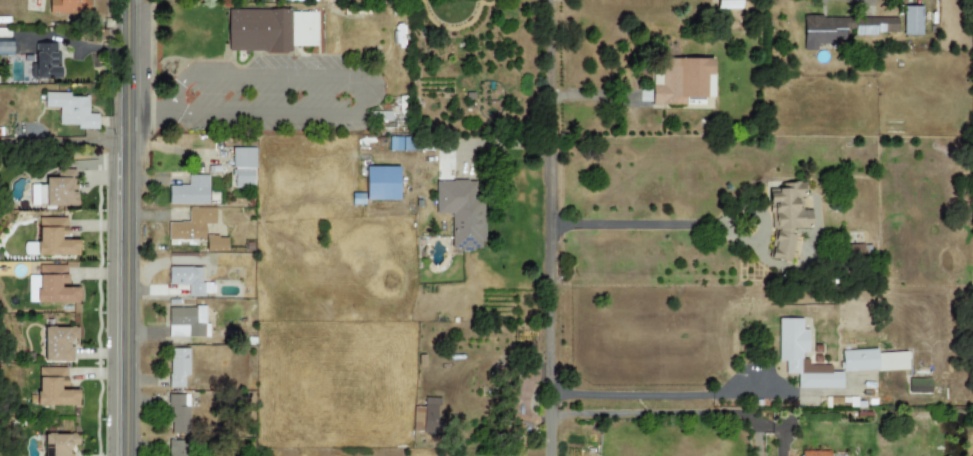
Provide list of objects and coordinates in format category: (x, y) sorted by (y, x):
building: (727, 4)
building: (69, 7)
building: (911, 20)
building: (843, 28)
building: (303, 29)
building: (255, 31)
building: (6, 46)
building: (44, 61)
road: (368, 77)
building: (680, 80)
road: (598, 96)
road: (151, 106)
building: (71, 110)
road: (175, 110)
road: (67, 127)
building: (381, 183)
building: (56, 190)
building: (190, 191)
building: (461, 211)
building: (786, 219)
road: (694, 223)
building: (192, 225)
road: (548, 227)
road: (131, 228)
building: (54, 237)
building: (215, 244)
building: (189, 280)
building: (50, 285)
building: (188, 322)
building: (56, 344)
building: (802, 358)
building: (878, 361)
building: (178, 367)
building: (54, 388)
road: (650, 395)
road: (657, 413)
building: (179, 414)
building: (426, 416)
building: (55, 444)
building: (176, 448)
building: (816, 453)

